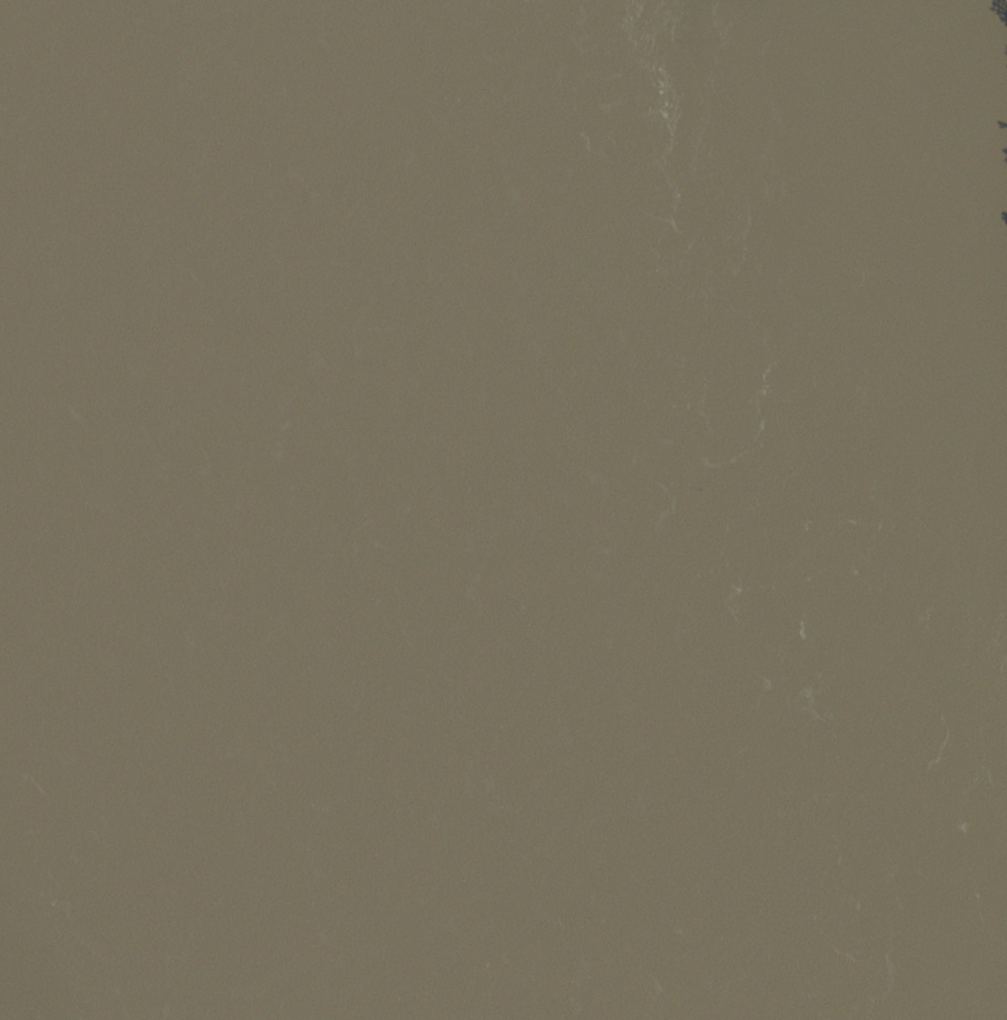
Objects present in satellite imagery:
river: (310, 510)

